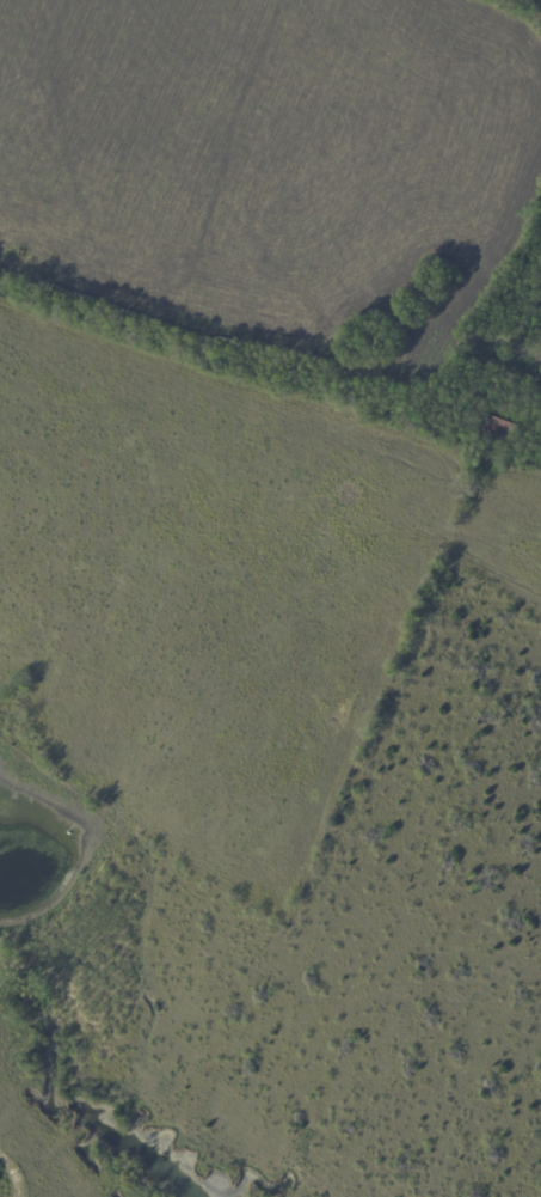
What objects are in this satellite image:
building: (502, 429)

